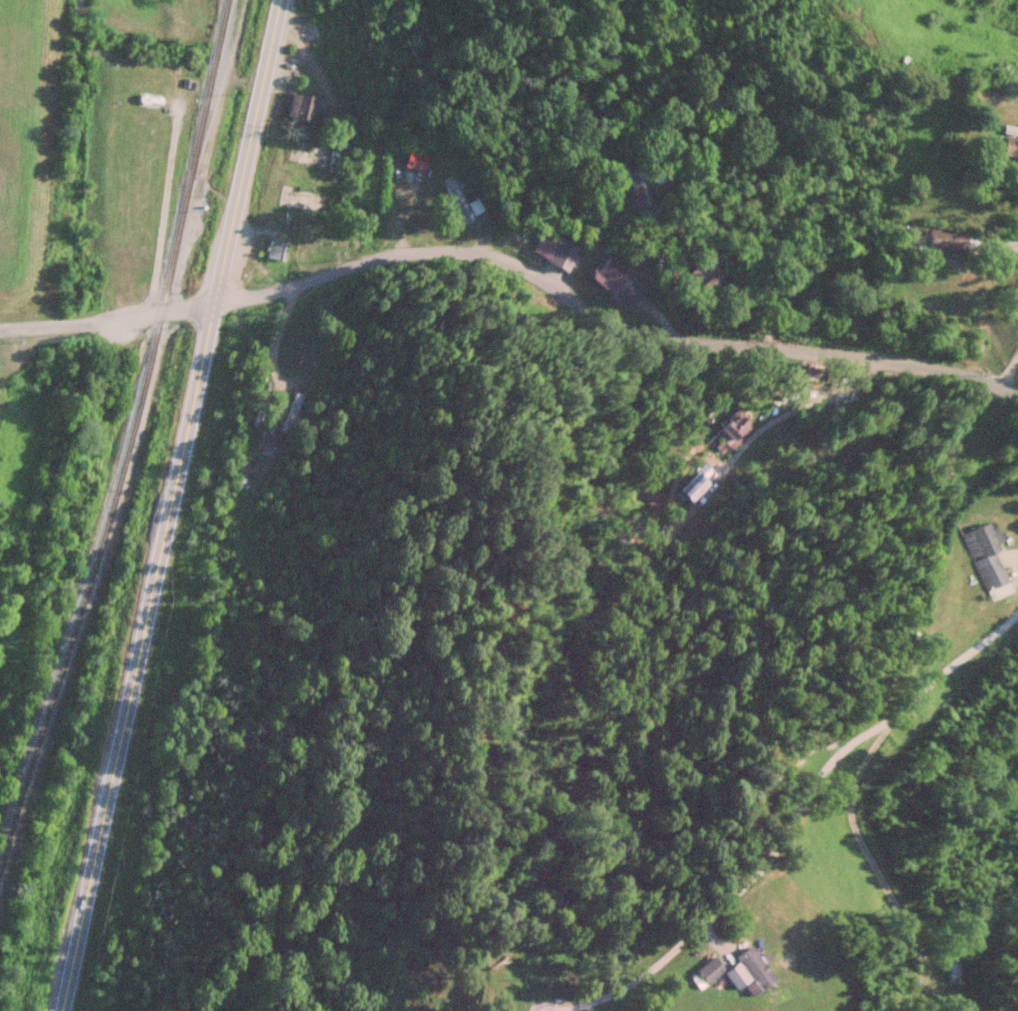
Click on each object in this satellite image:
road: (190, 307)
road: (607, 322)
road: (82, 324)
road: (1007, 370)
railway: (130, 466)
road: (173, 506)
road: (795, 819)

